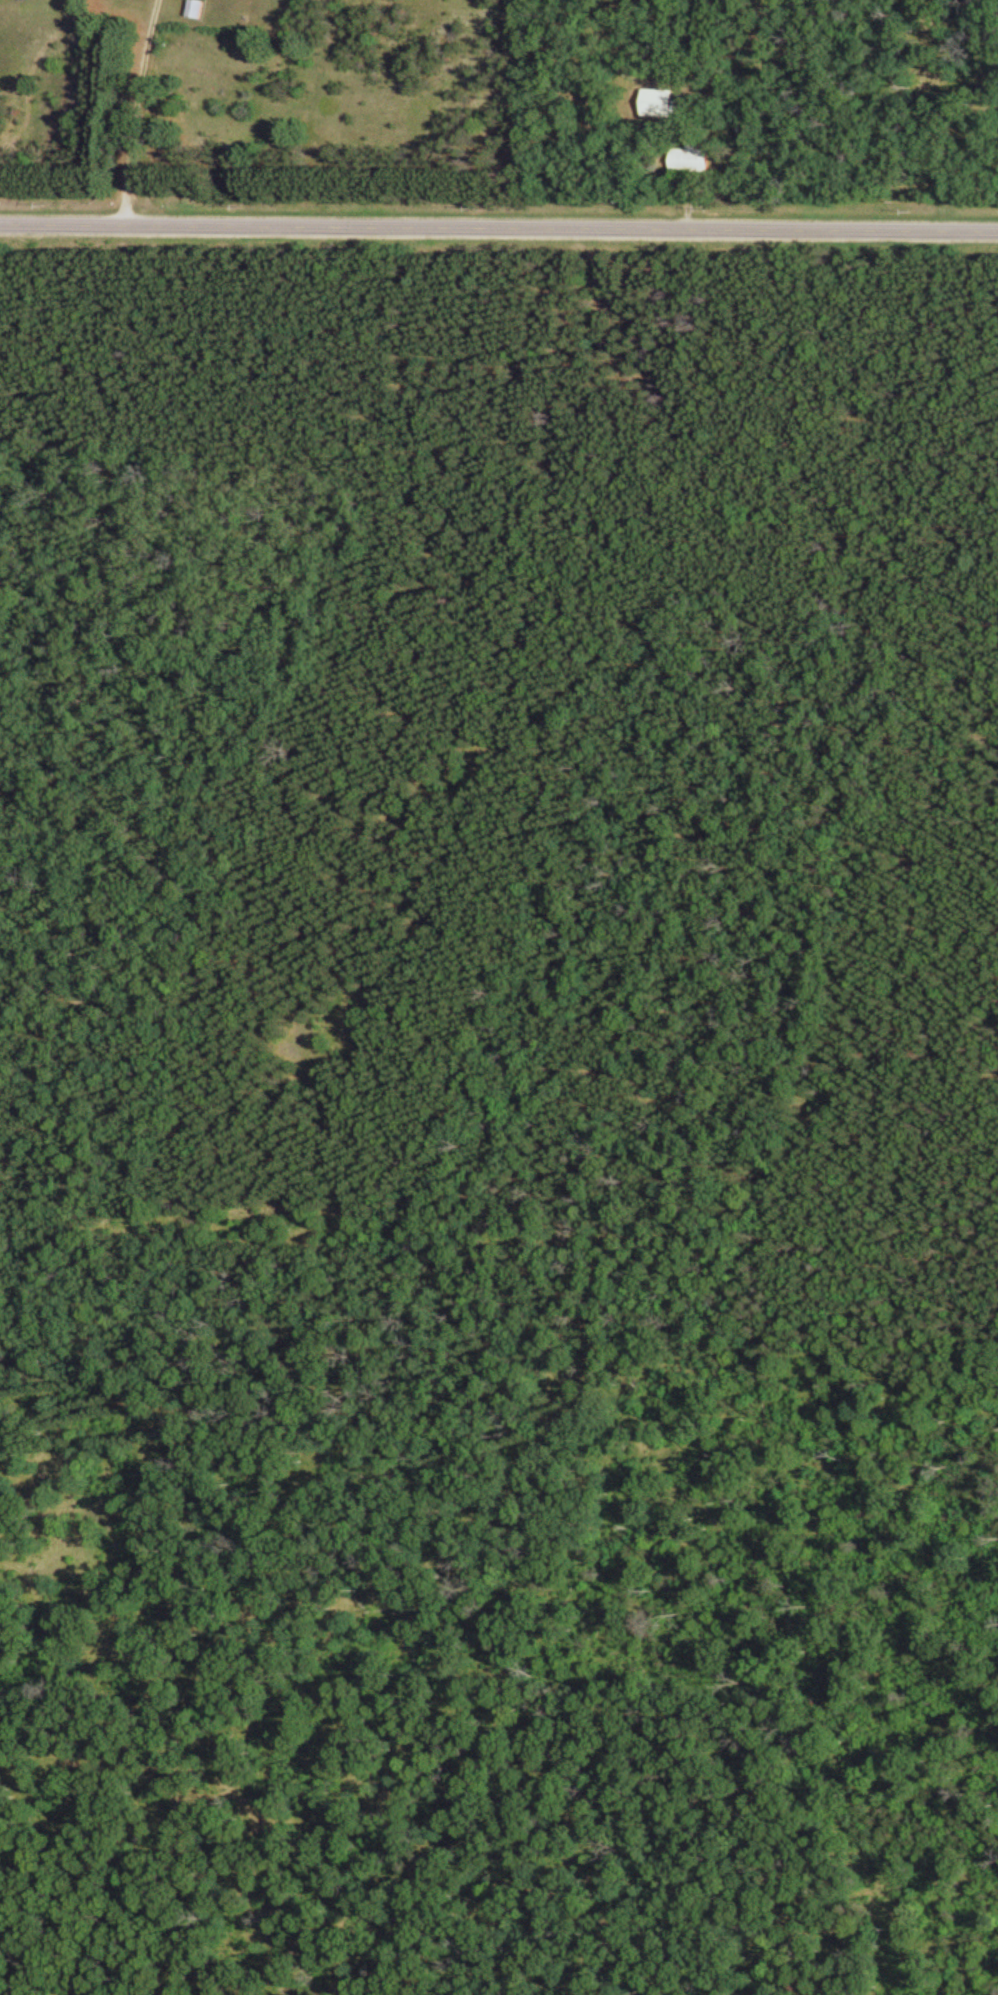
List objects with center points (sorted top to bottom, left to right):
building: (198, 8)
building: (664, 100)
building: (695, 157)
road: (499, 222)

